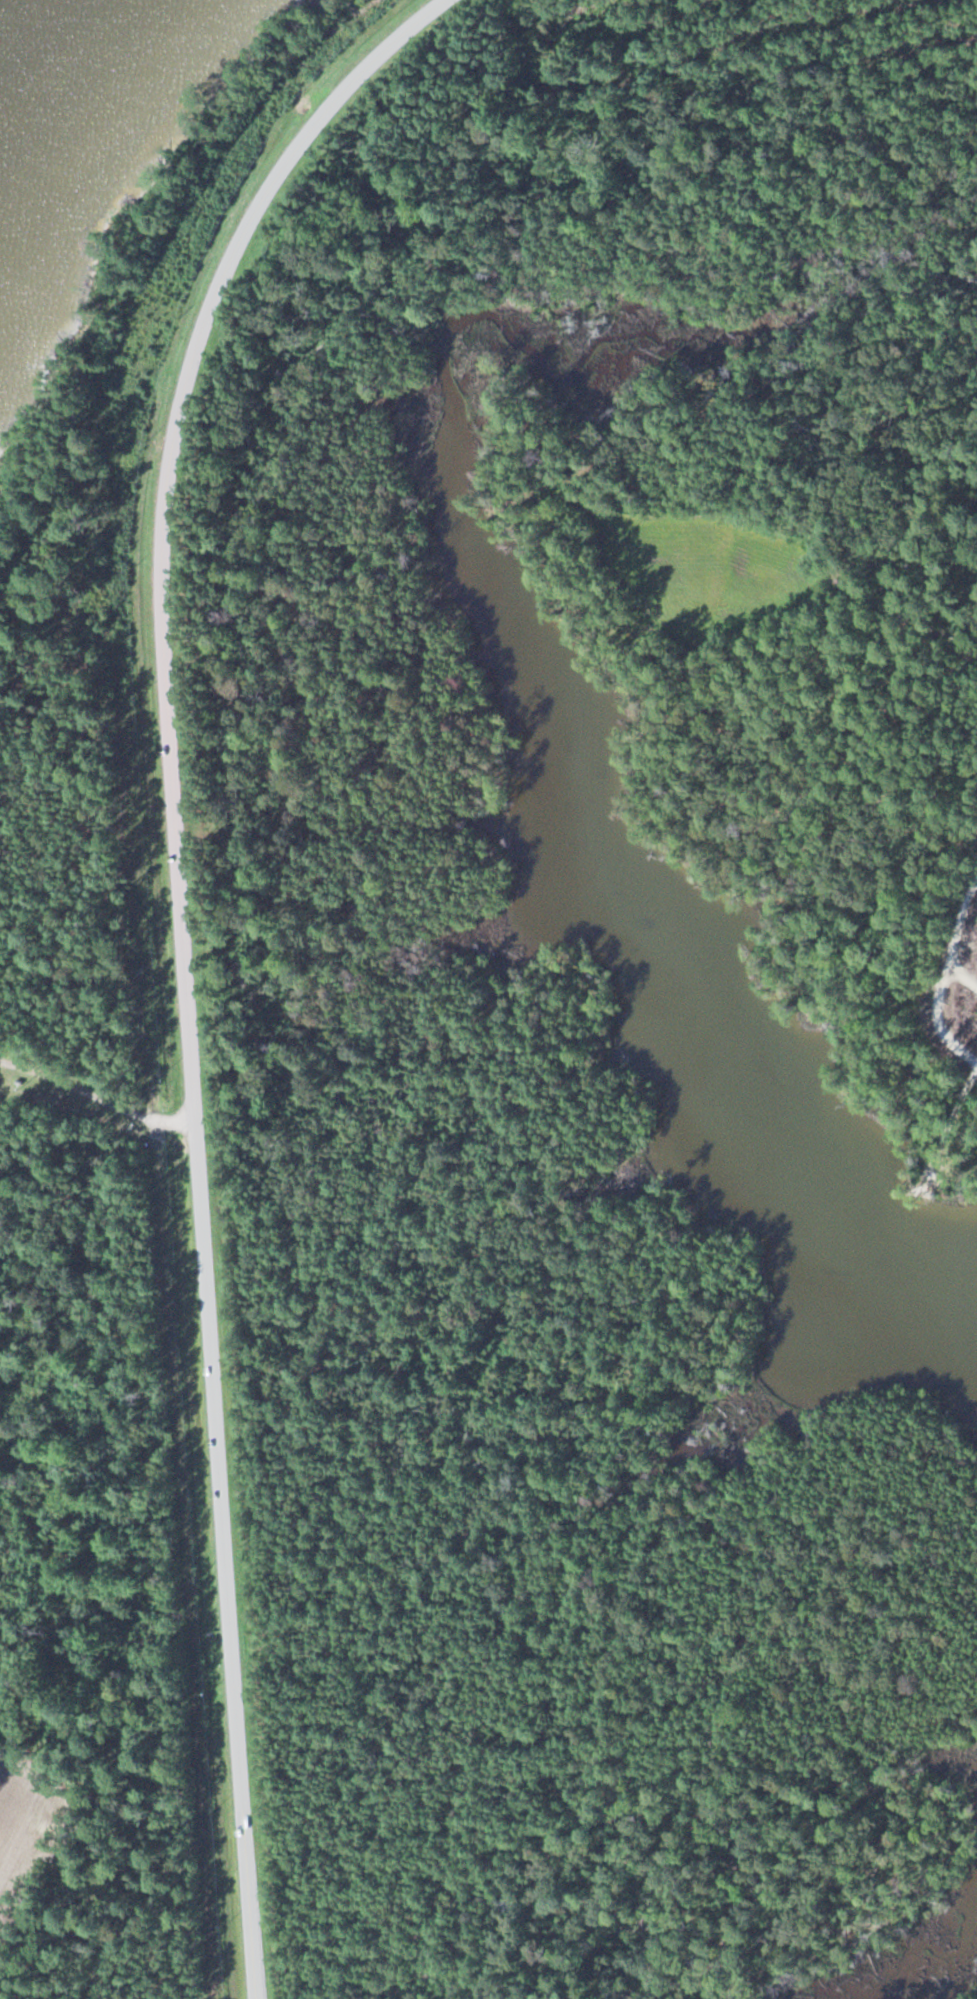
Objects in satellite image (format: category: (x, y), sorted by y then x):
road: (960, 938)
road: (171, 959)
road: (963, 982)
road: (935, 1029)

